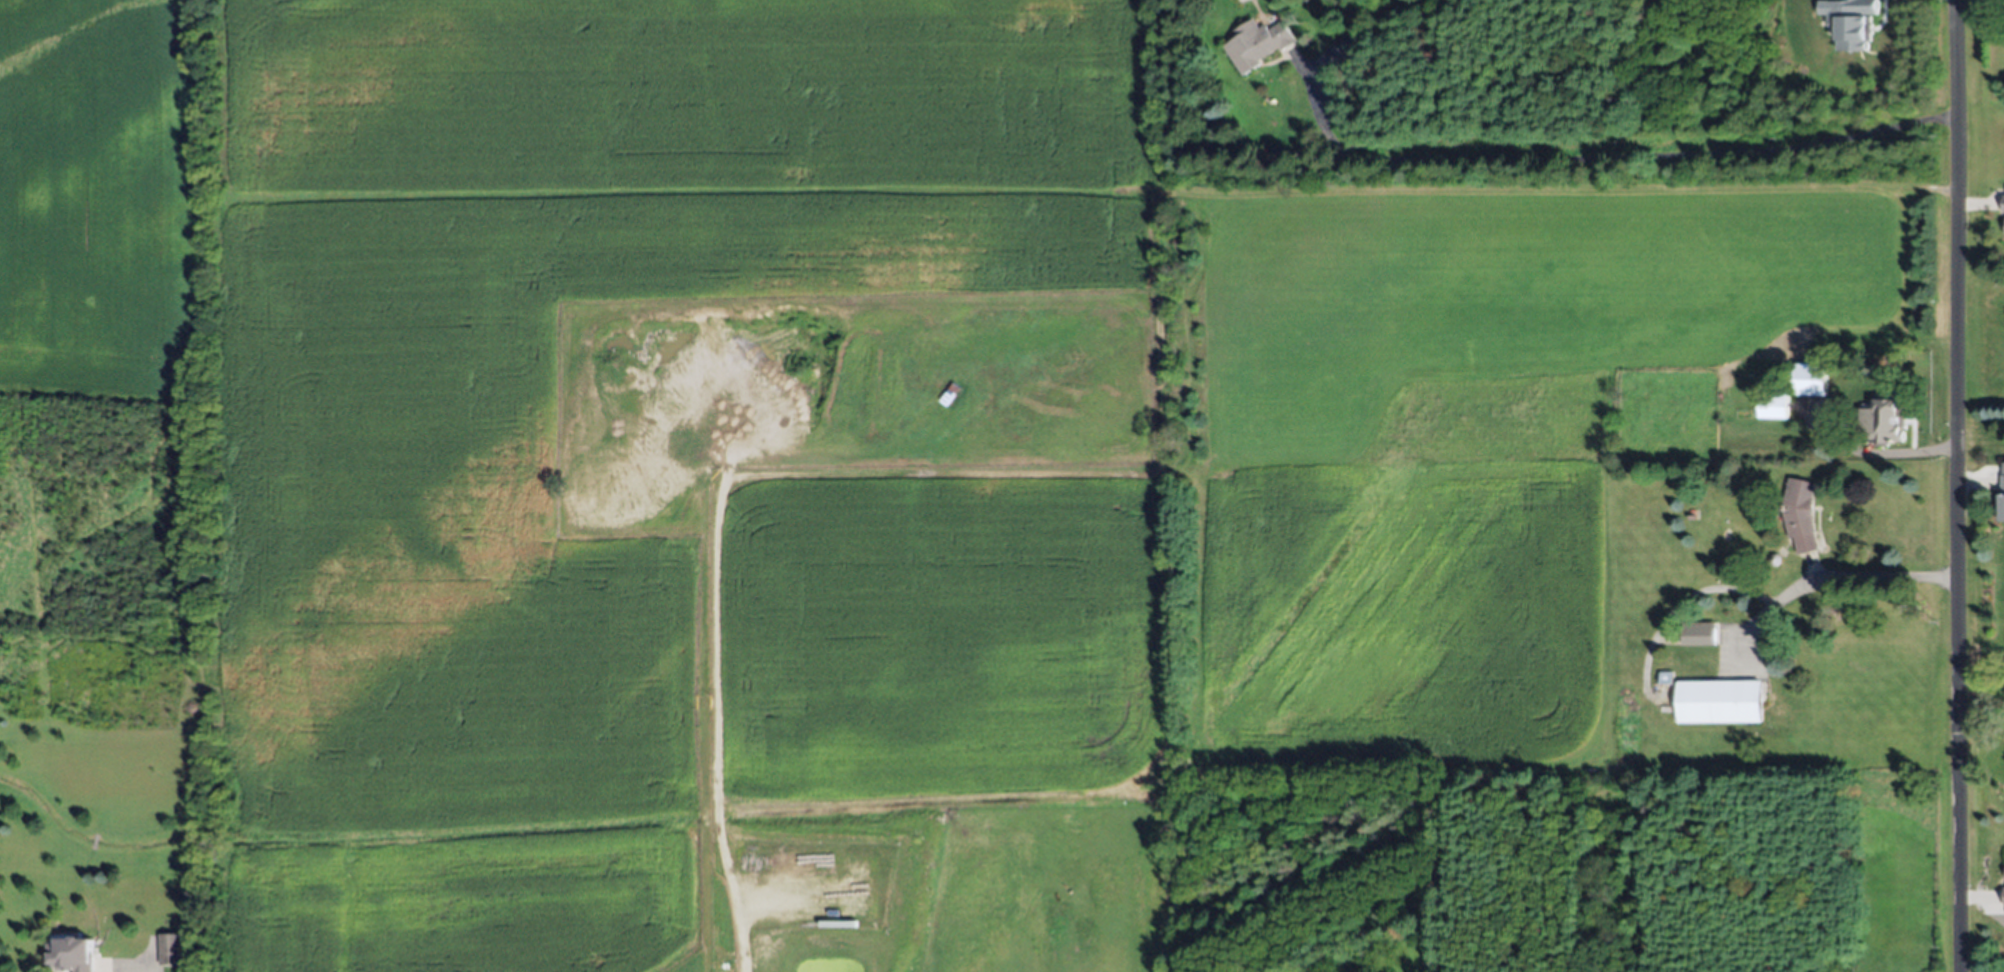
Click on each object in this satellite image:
building: (1852, 22)
building: (1258, 44)
building: (1352, 44)
road: (1615, 152)
building: (2002, 202)
building: (1813, 378)
building: (1773, 405)
building: (1872, 424)
road: (1870, 452)
building: (2002, 479)
road: (1958, 486)
building: (1801, 514)
road: (1832, 578)
building: (1698, 633)
building: (1665, 678)
building: (1718, 701)
building: (2003, 895)
building: (172, 948)
building: (73, 954)
road: (141, 969)

